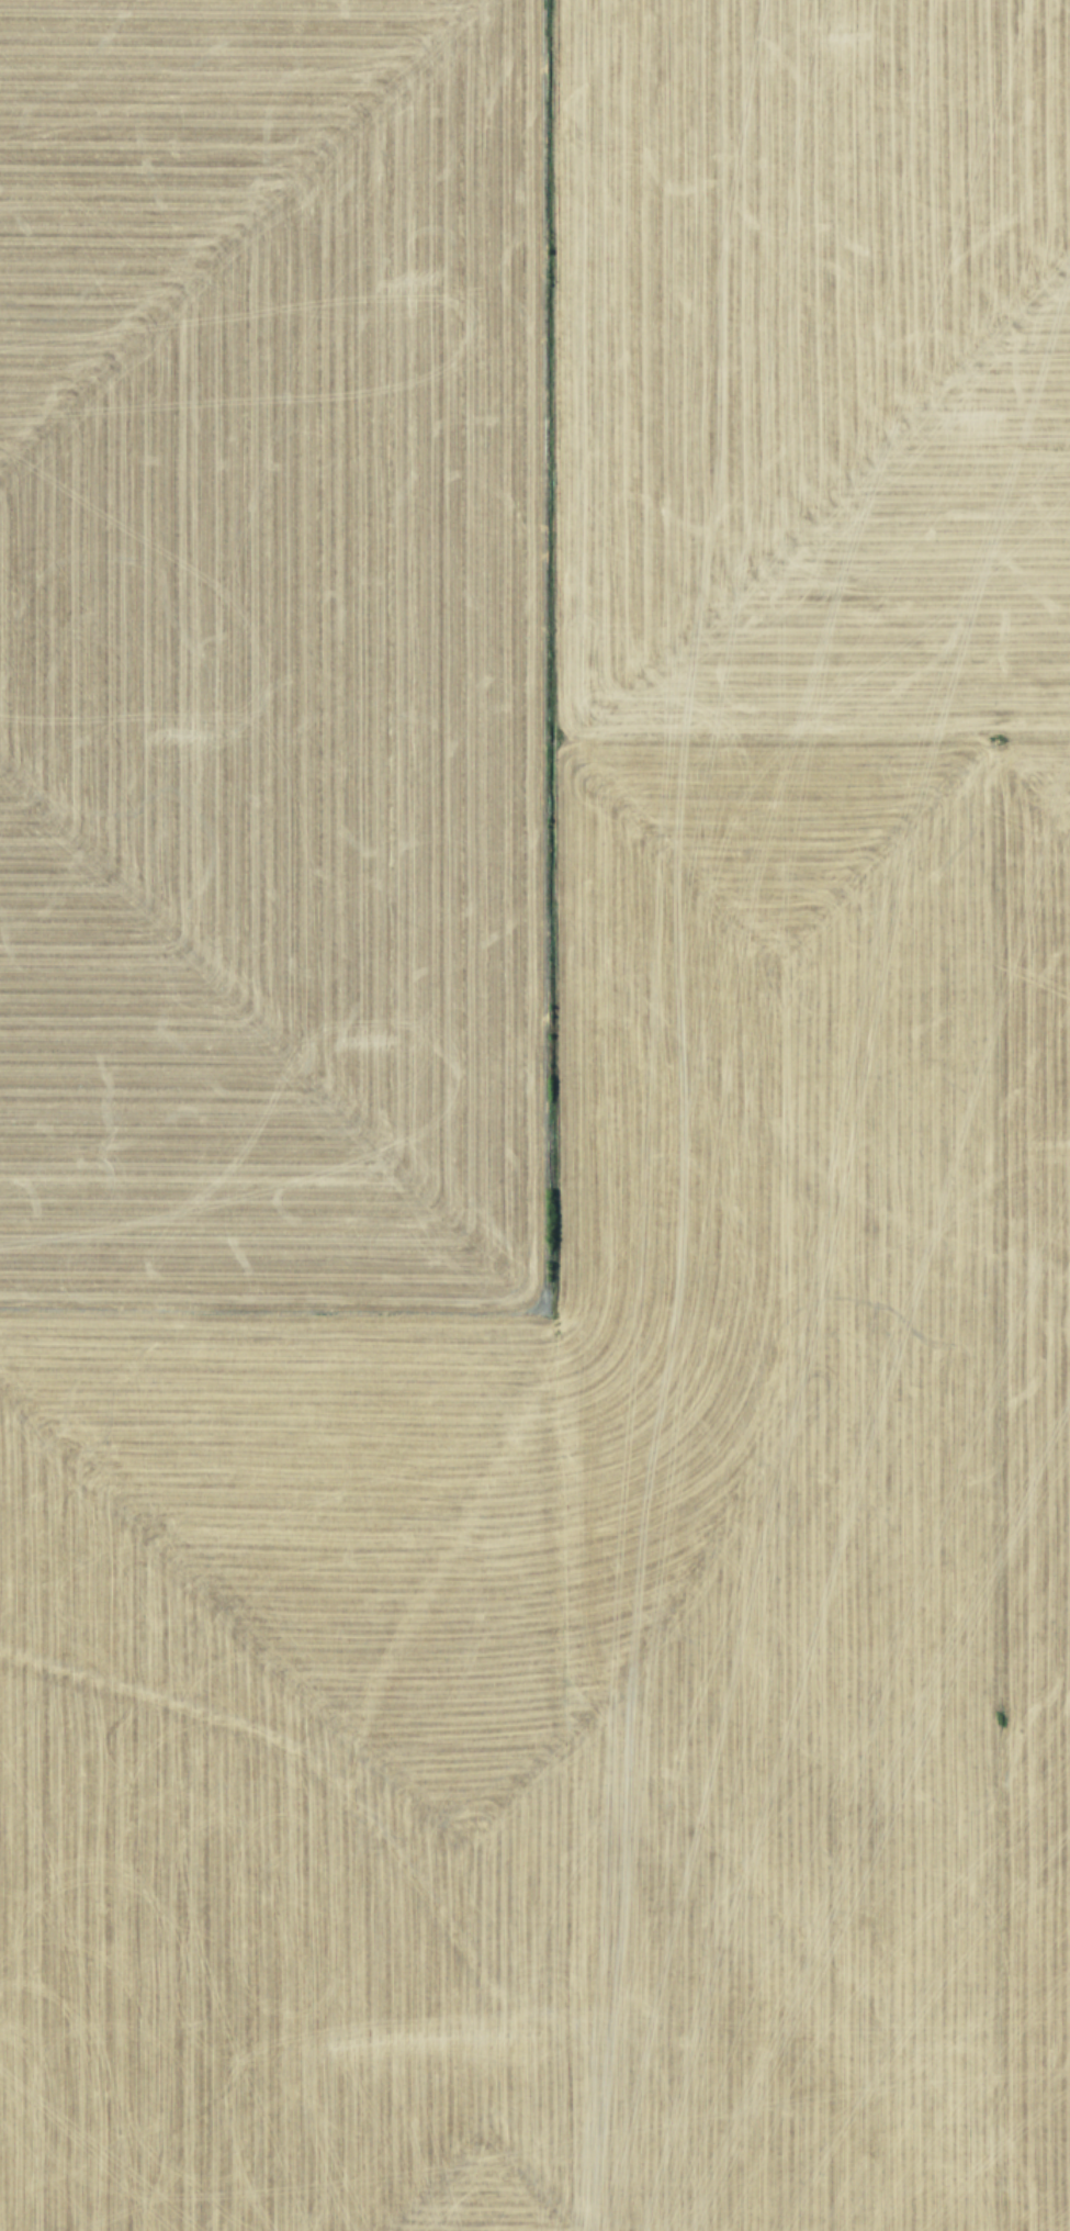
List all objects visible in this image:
crop: (534, 1115)

